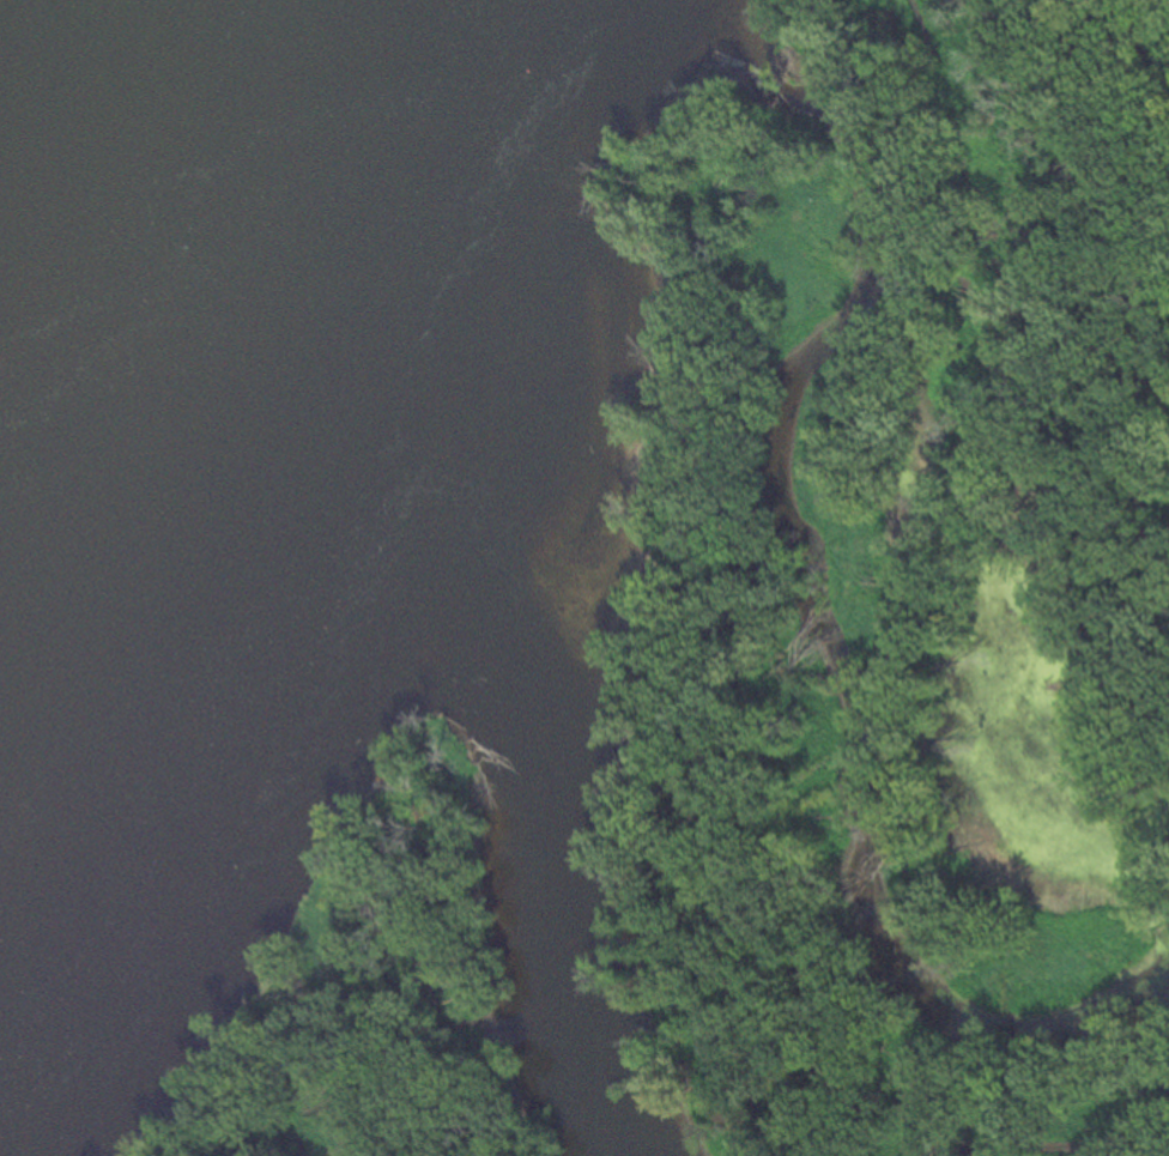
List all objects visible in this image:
river: (81, 253)
river: (538, 745)

